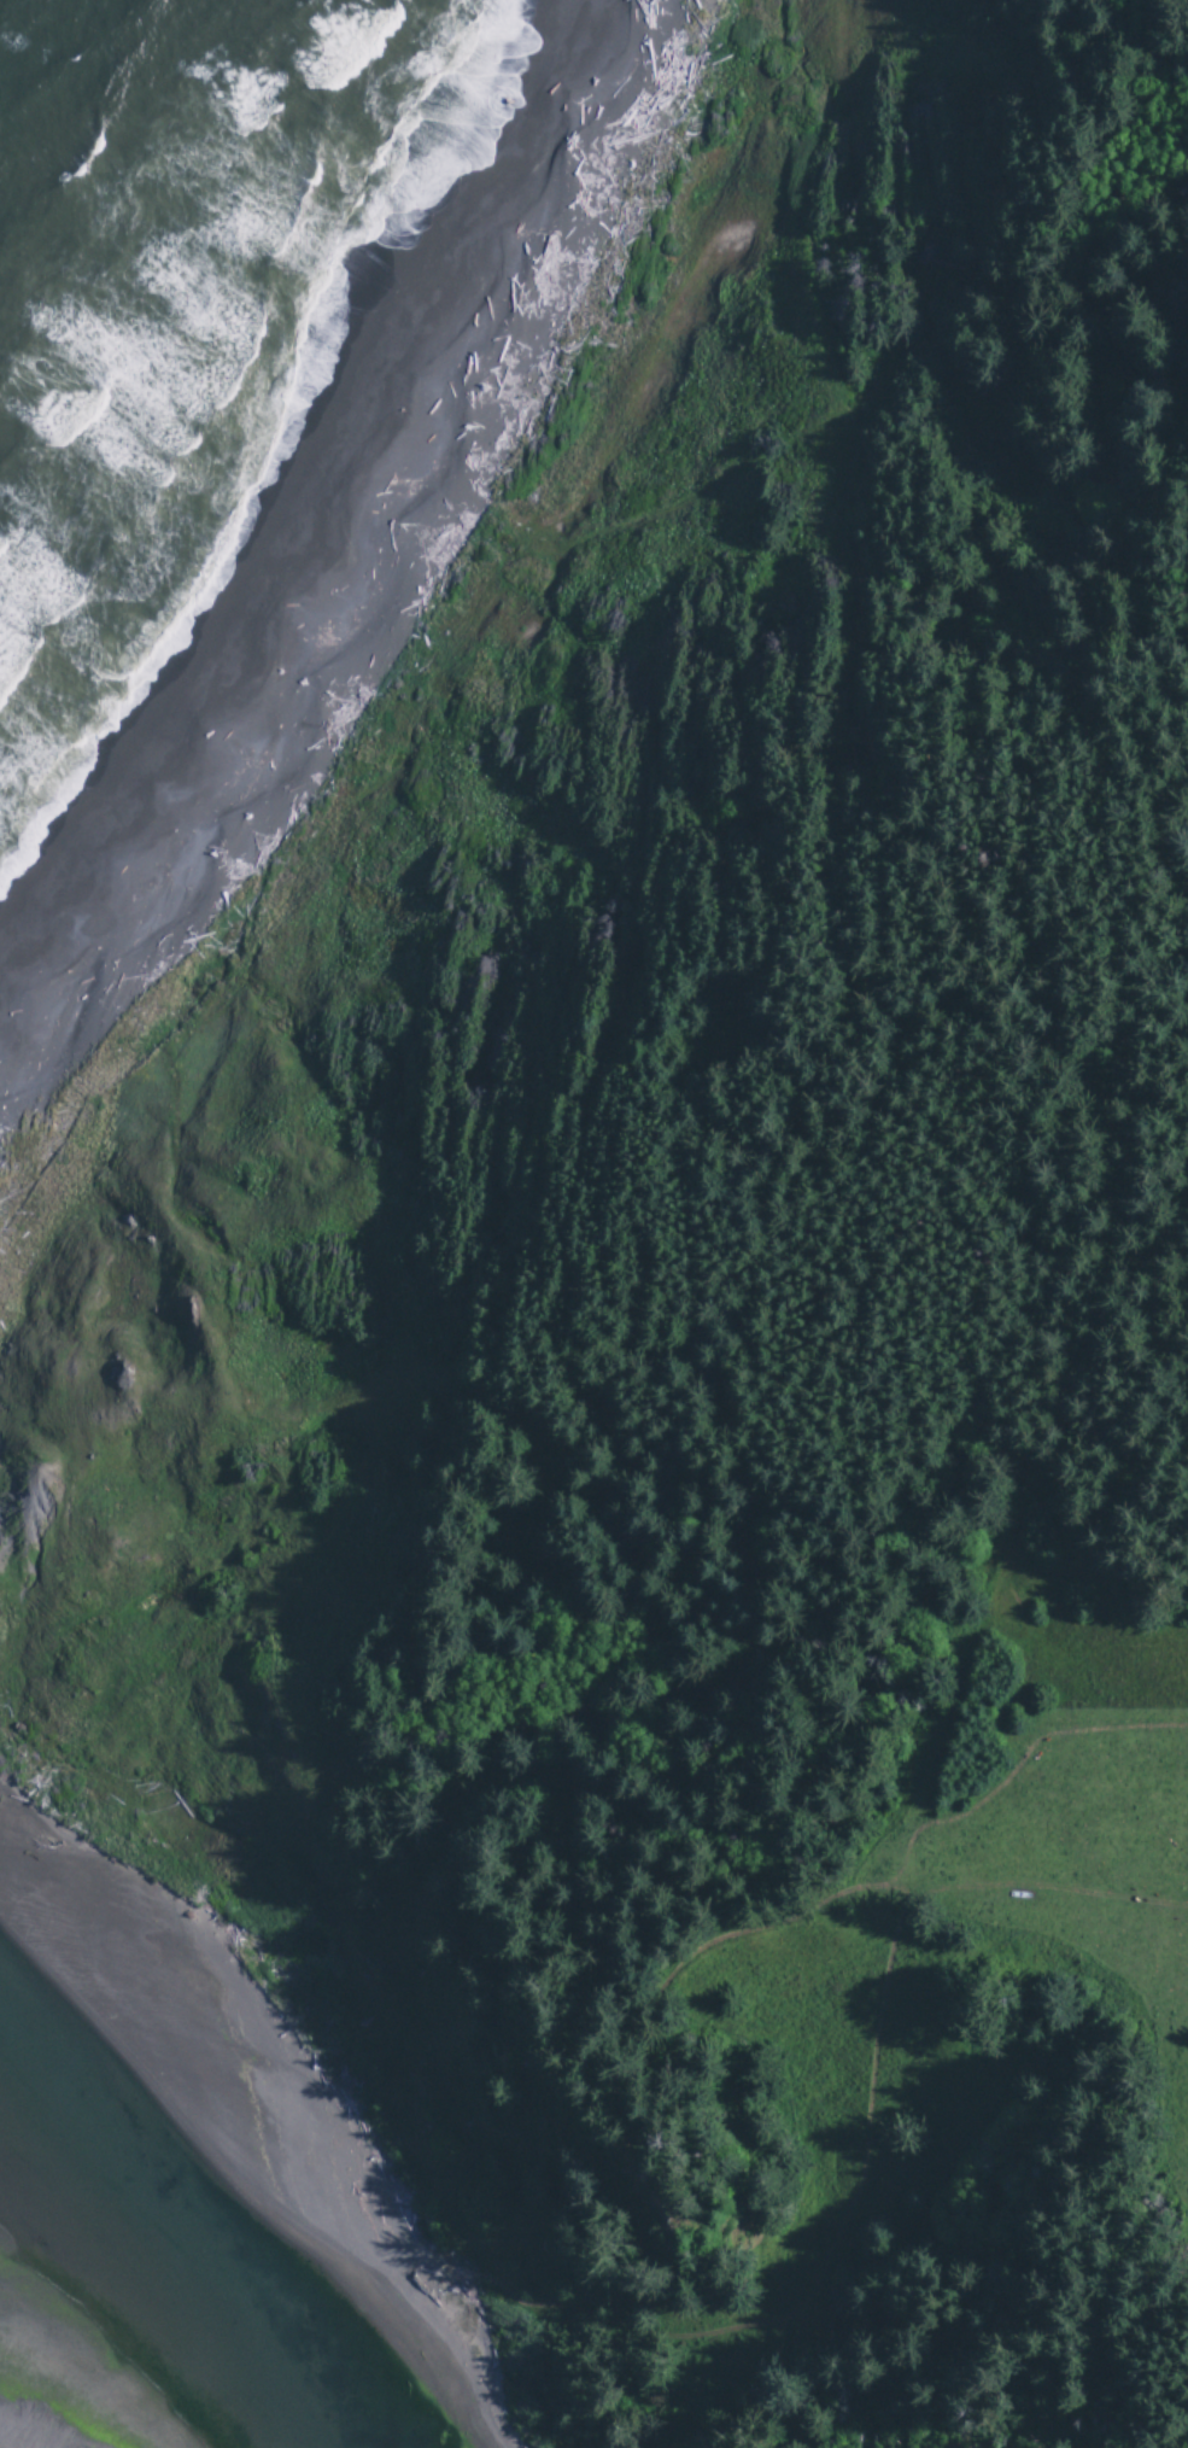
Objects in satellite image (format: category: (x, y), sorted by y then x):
river: (129, 2368)

